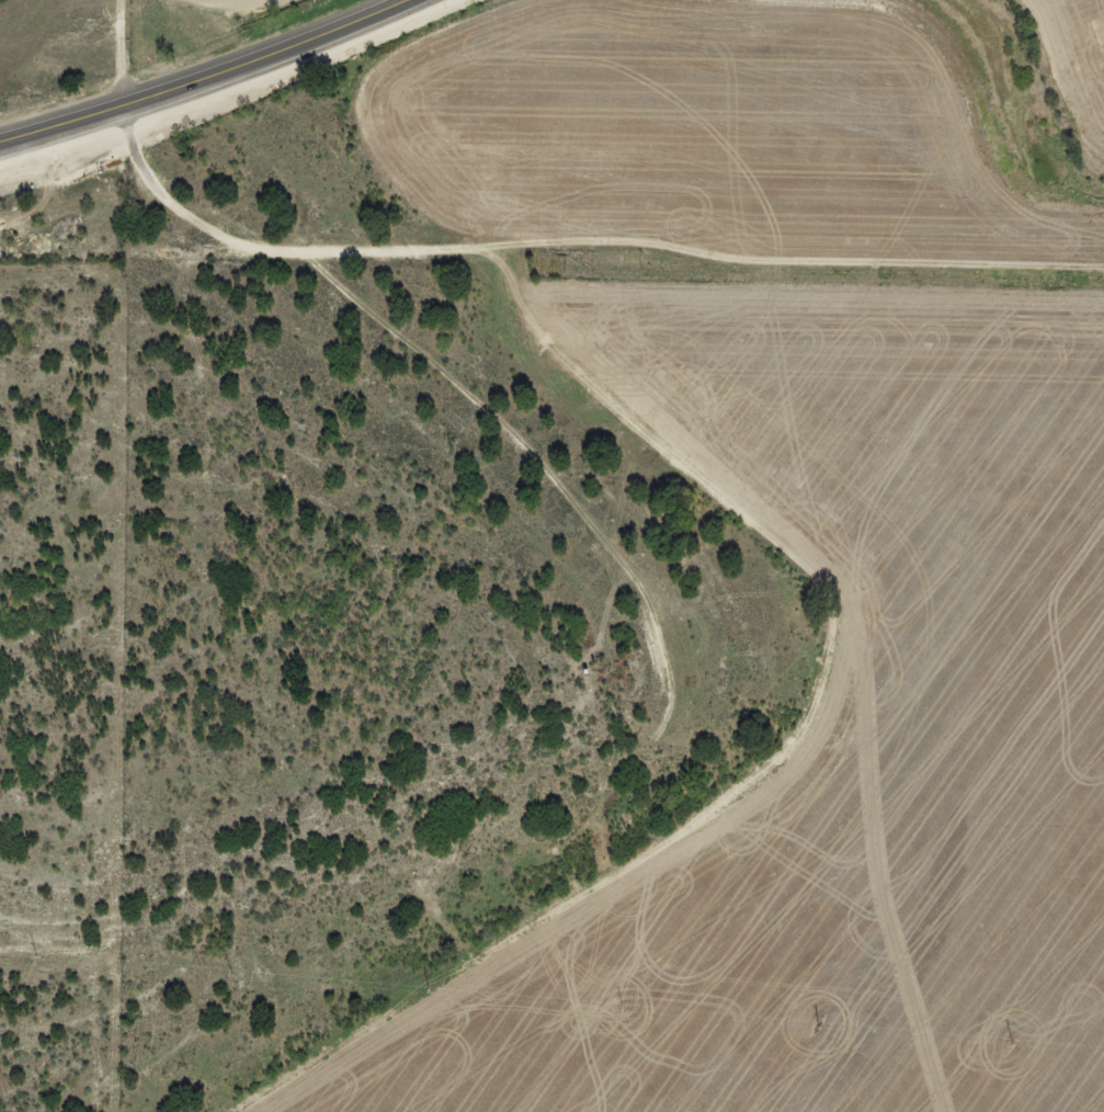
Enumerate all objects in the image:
road: (116, 52)
road: (191, 77)

